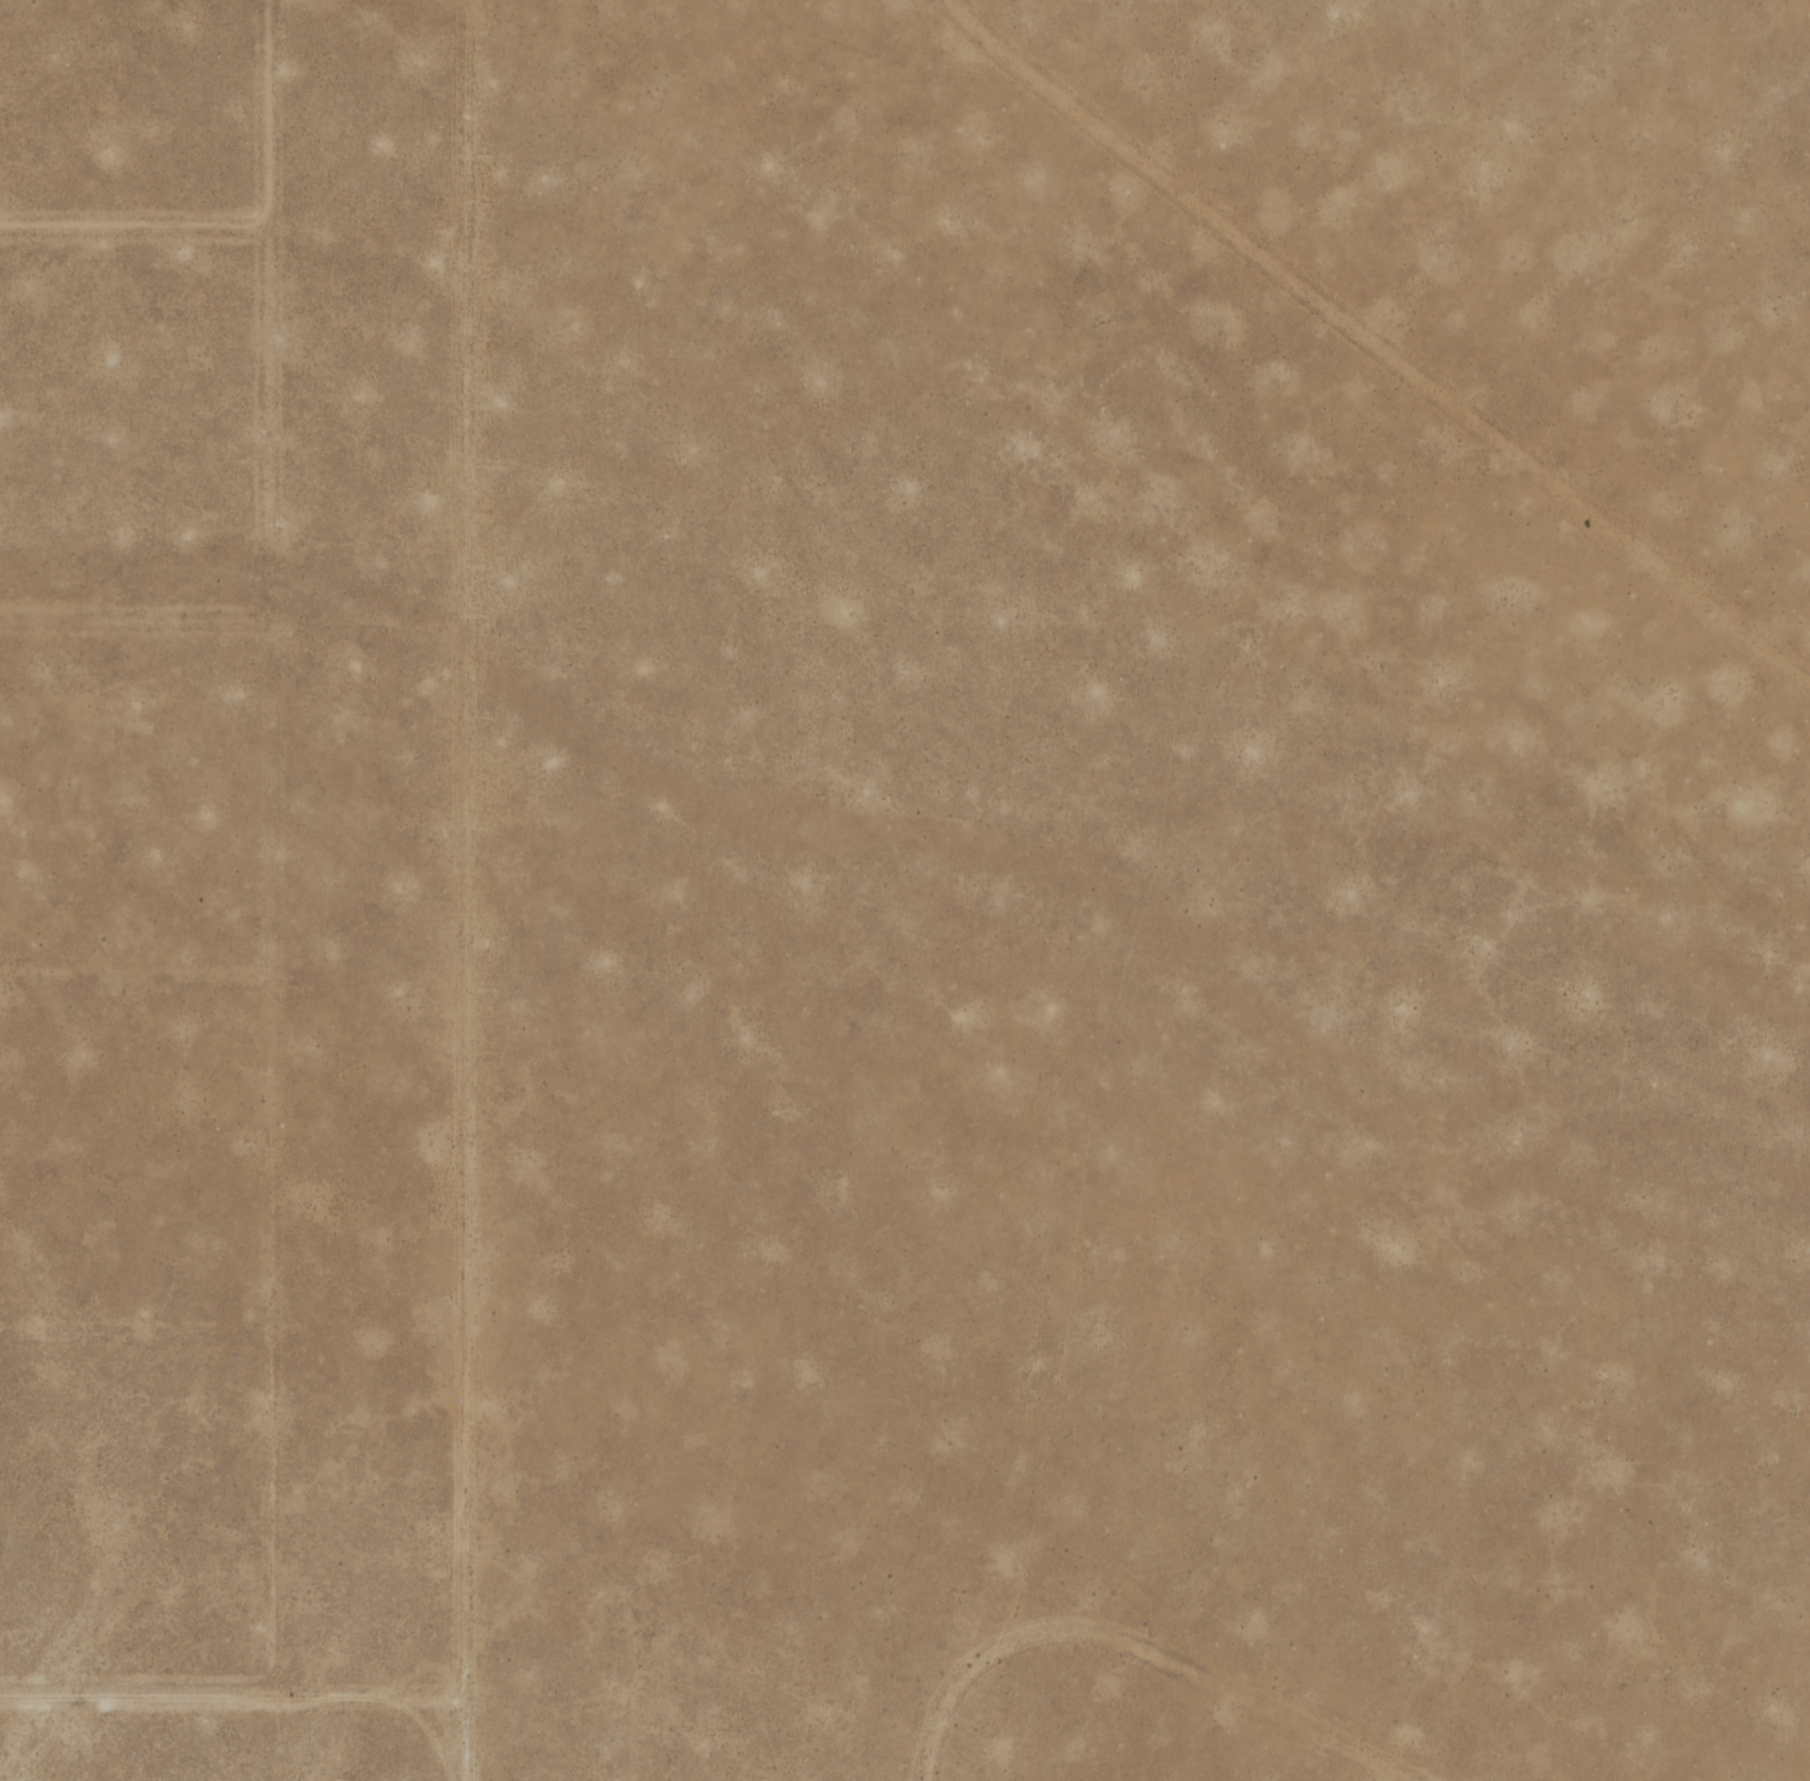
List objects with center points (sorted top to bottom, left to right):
road: (474, 890)
road: (1166, 1629)
road: (237, 1702)

